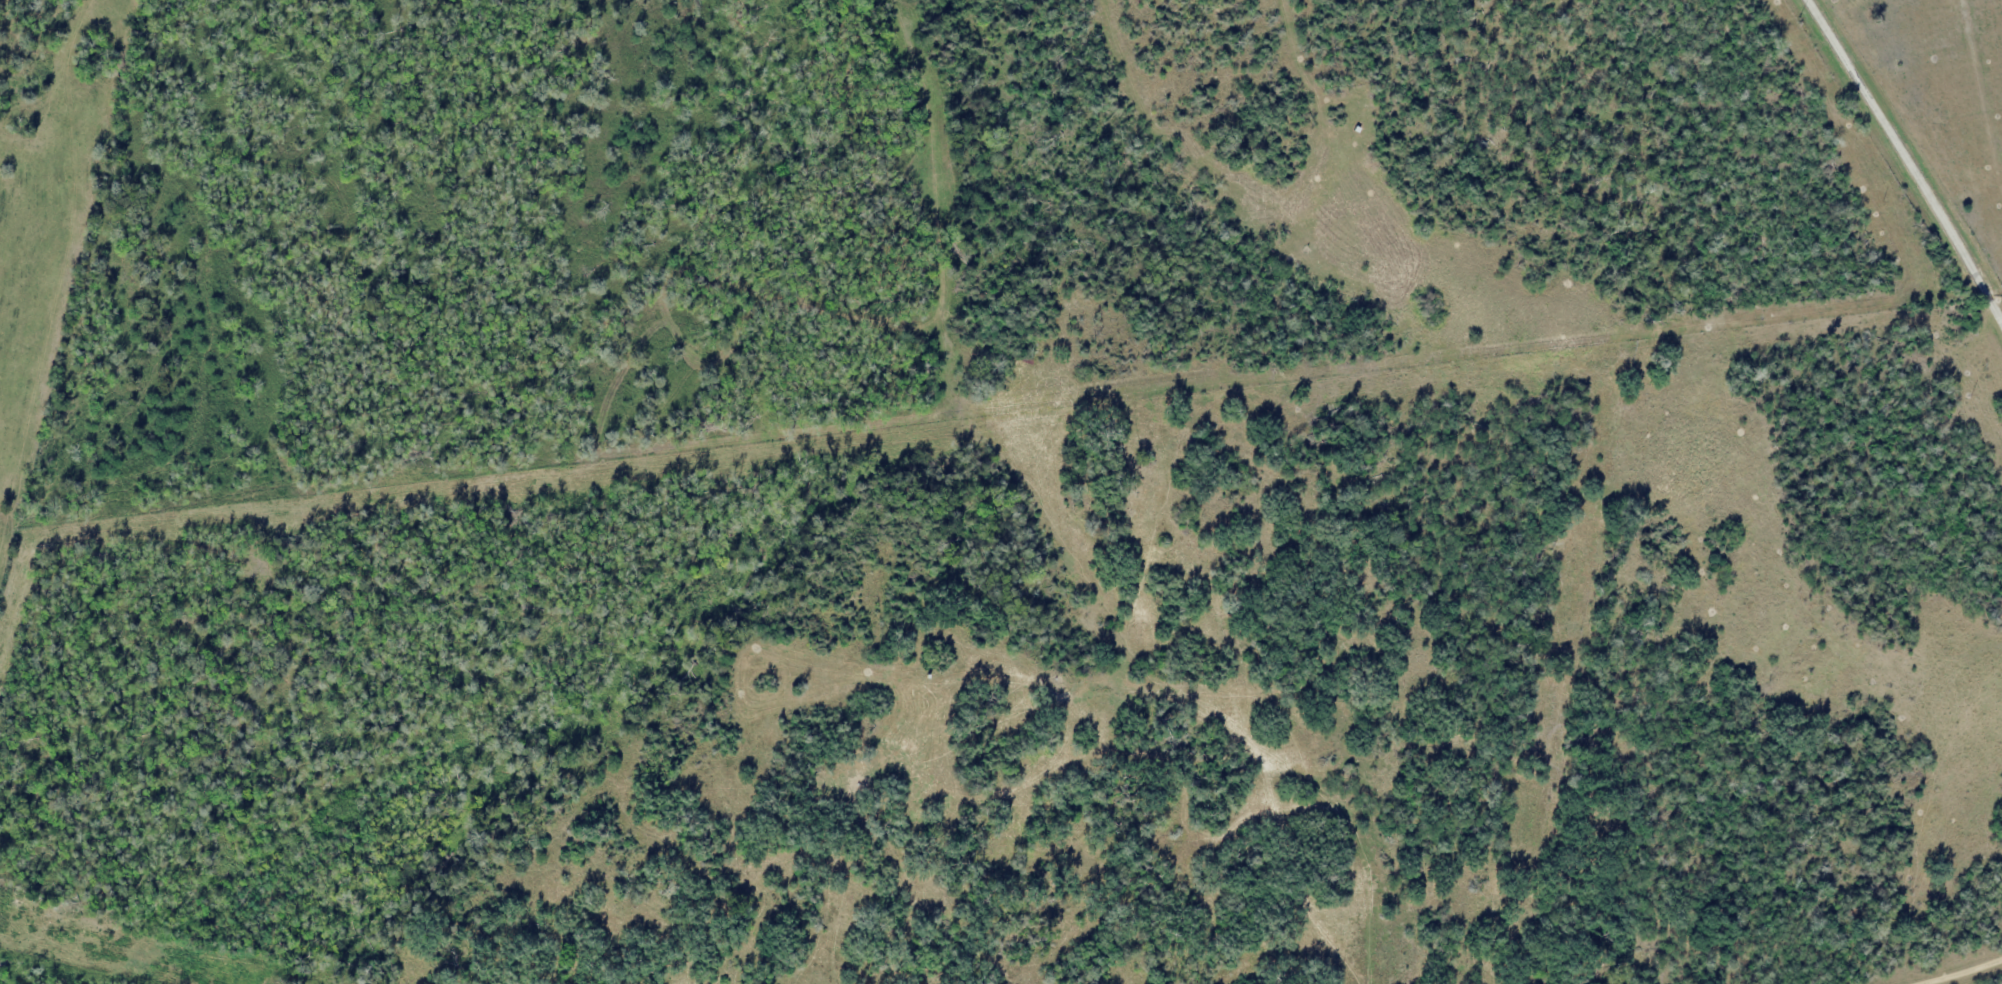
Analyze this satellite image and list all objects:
building: (1360, 130)
road: (1910, 155)
road: (1964, 973)

